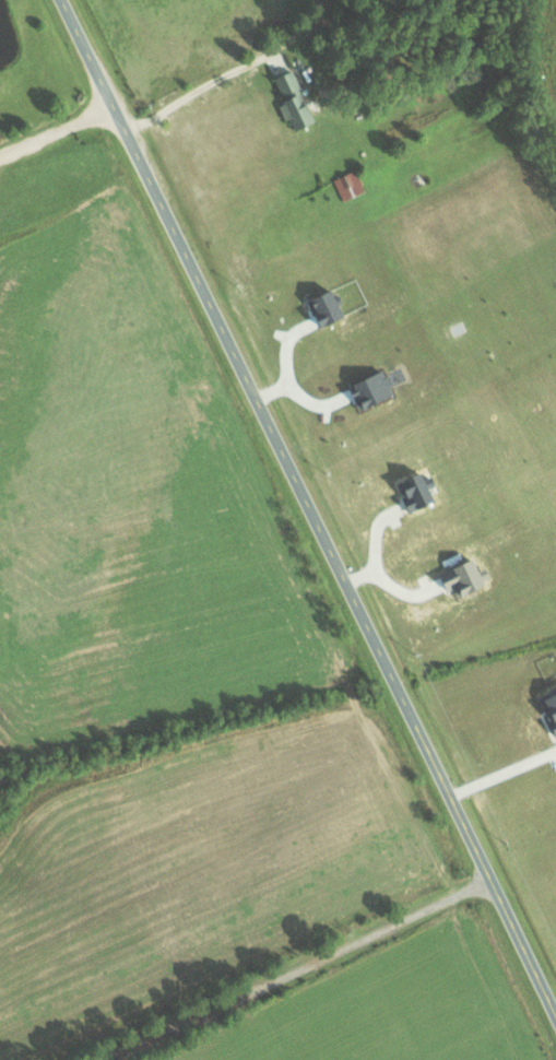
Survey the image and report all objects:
building: (292, 99)
road: (57, 123)
building: (347, 184)
airport runway: (40, 187)
road: (311, 506)
road: (297, 966)

